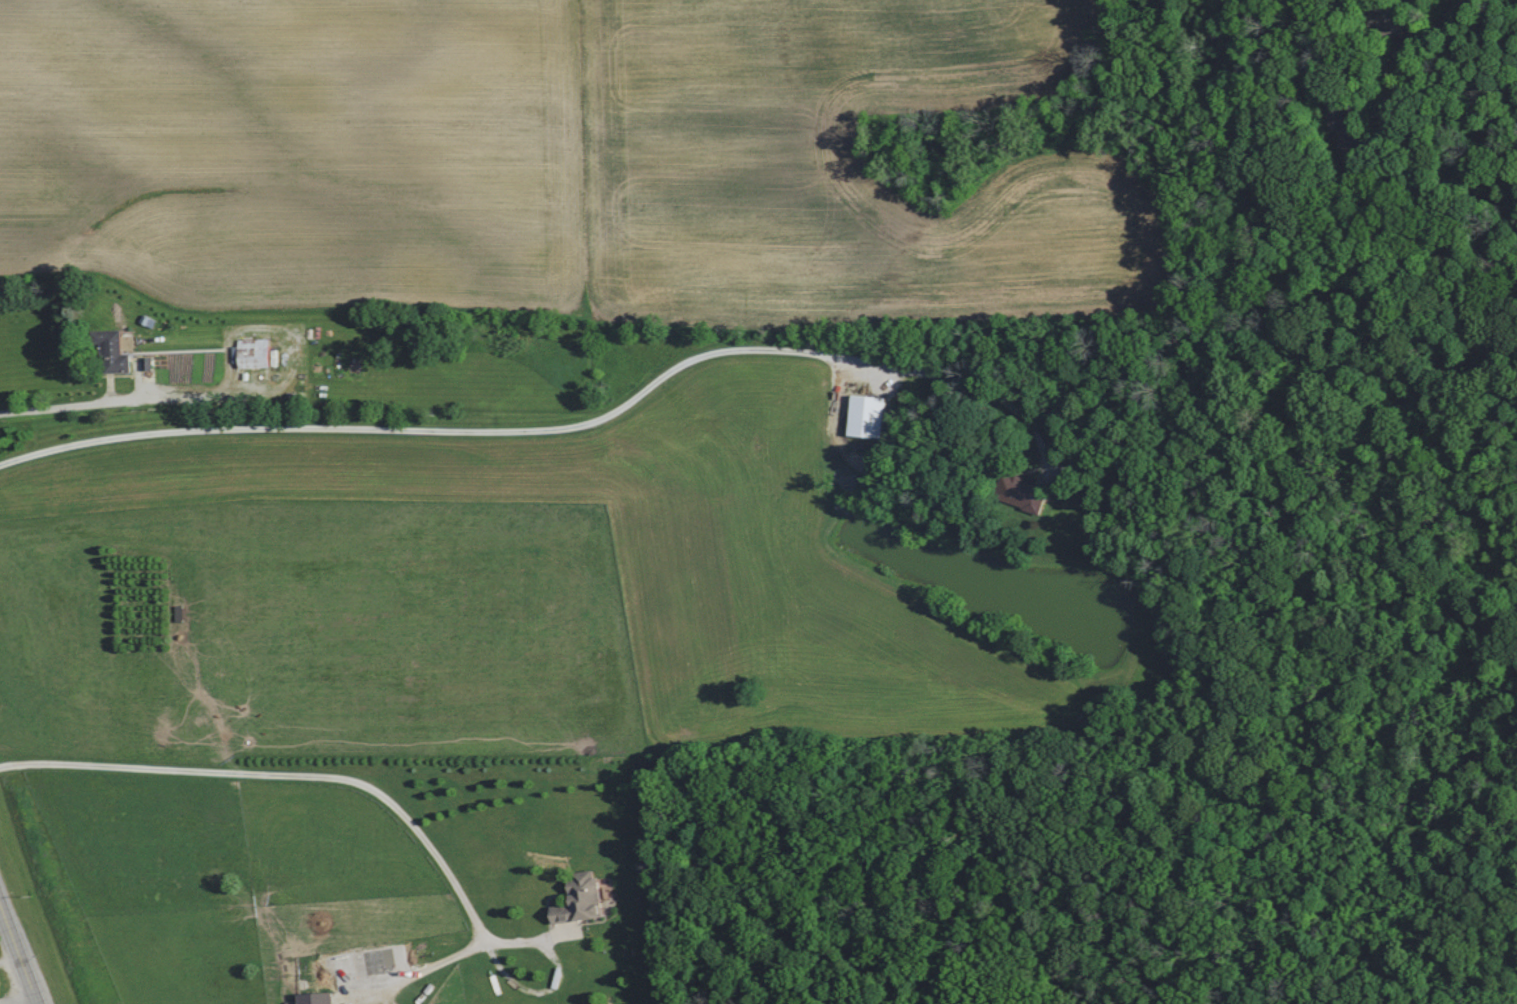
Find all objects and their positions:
building: (1346, 125)
building: (118, 351)
building: (258, 354)
road: (69, 406)
building: (871, 417)
road: (549, 429)
building: (1026, 494)
road: (285, 775)
building: (585, 900)
road: (20, 954)
road: (433, 967)
road: (558, 978)
building: (1, 985)
building: (323, 998)

